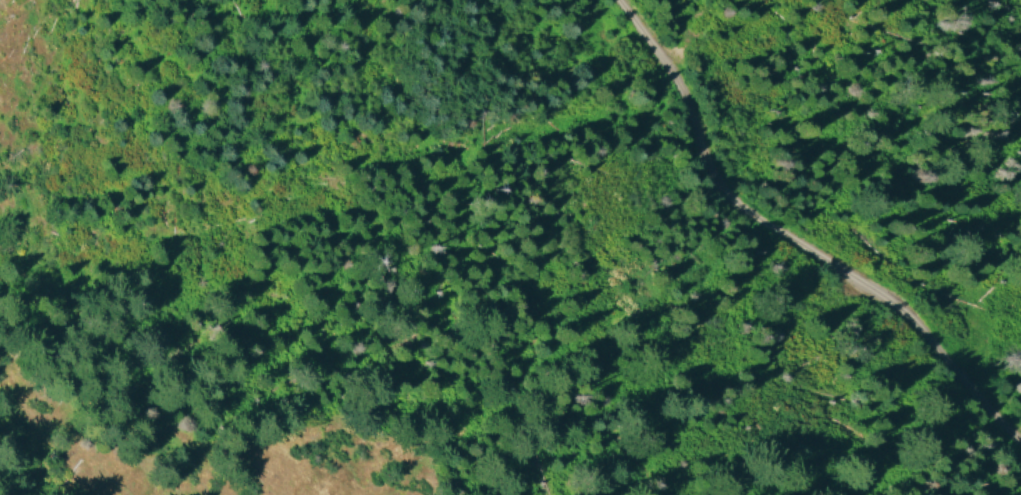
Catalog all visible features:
road: (792, 246)

